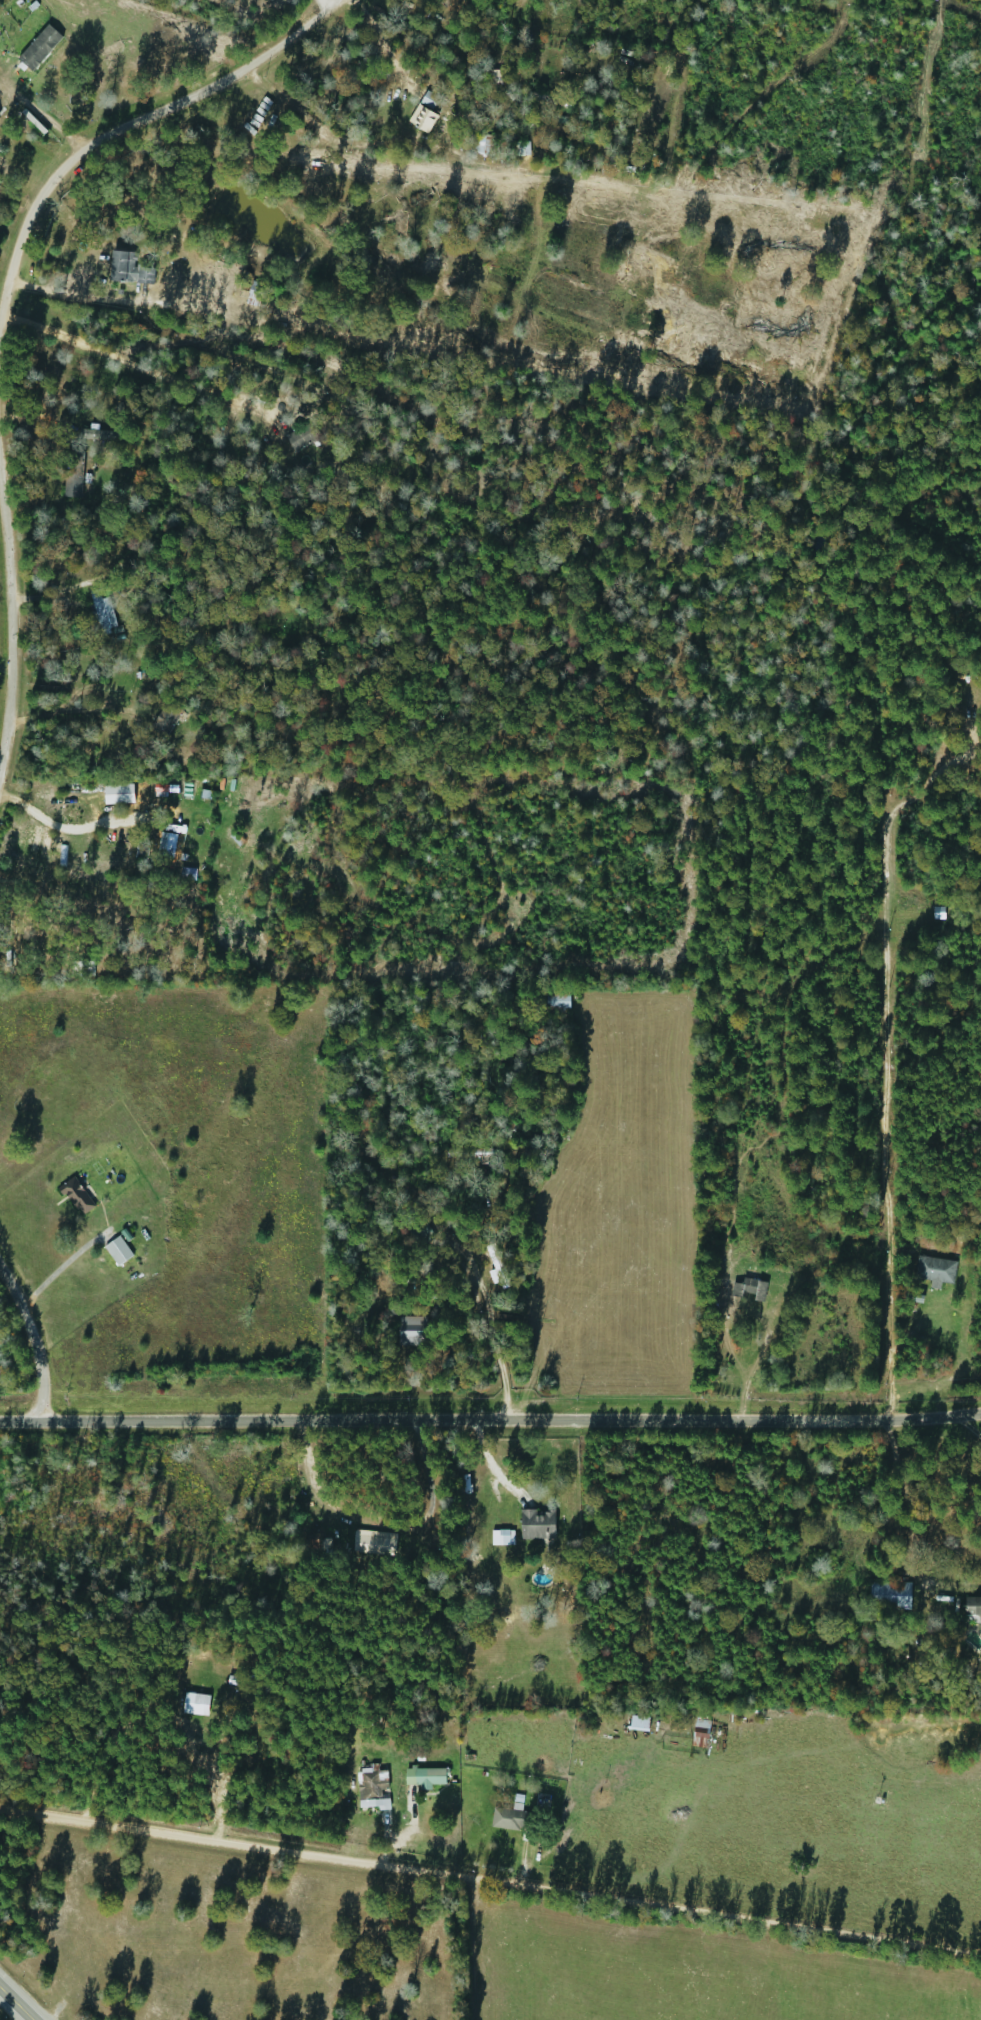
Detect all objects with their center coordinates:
building: (37, 47)
building: (548, 101)
building: (424, 111)
road: (138, 115)
road: (352, 122)
building: (482, 145)
building: (126, 269)
building: (255, 294)
building: (300, 436)
building: (70, 474)
building: (99, 612)
road: (7, 629)
road: (70, 710)
building: (163, 719)
building: (174, 844)
building: (936, 913)
building: (554, 1000)
road: (898, 1076)
building: (465, 1153)
building: (74, 1196)
building: (419, 1233)
building: (115, 1250)
building: (496, 1265)
building: (747, 1288)
building: (933, 1304)
road: (550, 1311)
building: (410, 1330)
road: (34, 1332)
road: (490, 1426)
building: (534, 1524)
building: (372, 1543)
building: (880, 1595)
building: (971, 1606)
building: (190, 1697)
building: (636, 1723)
building: (699, 1724)
building: (253, 1741)
building: (695, 1741)
building: (423, 1777)
building: (370, 1787)
building: (510, 1819)
road: (489, 1869)
road: (16, 2004)

